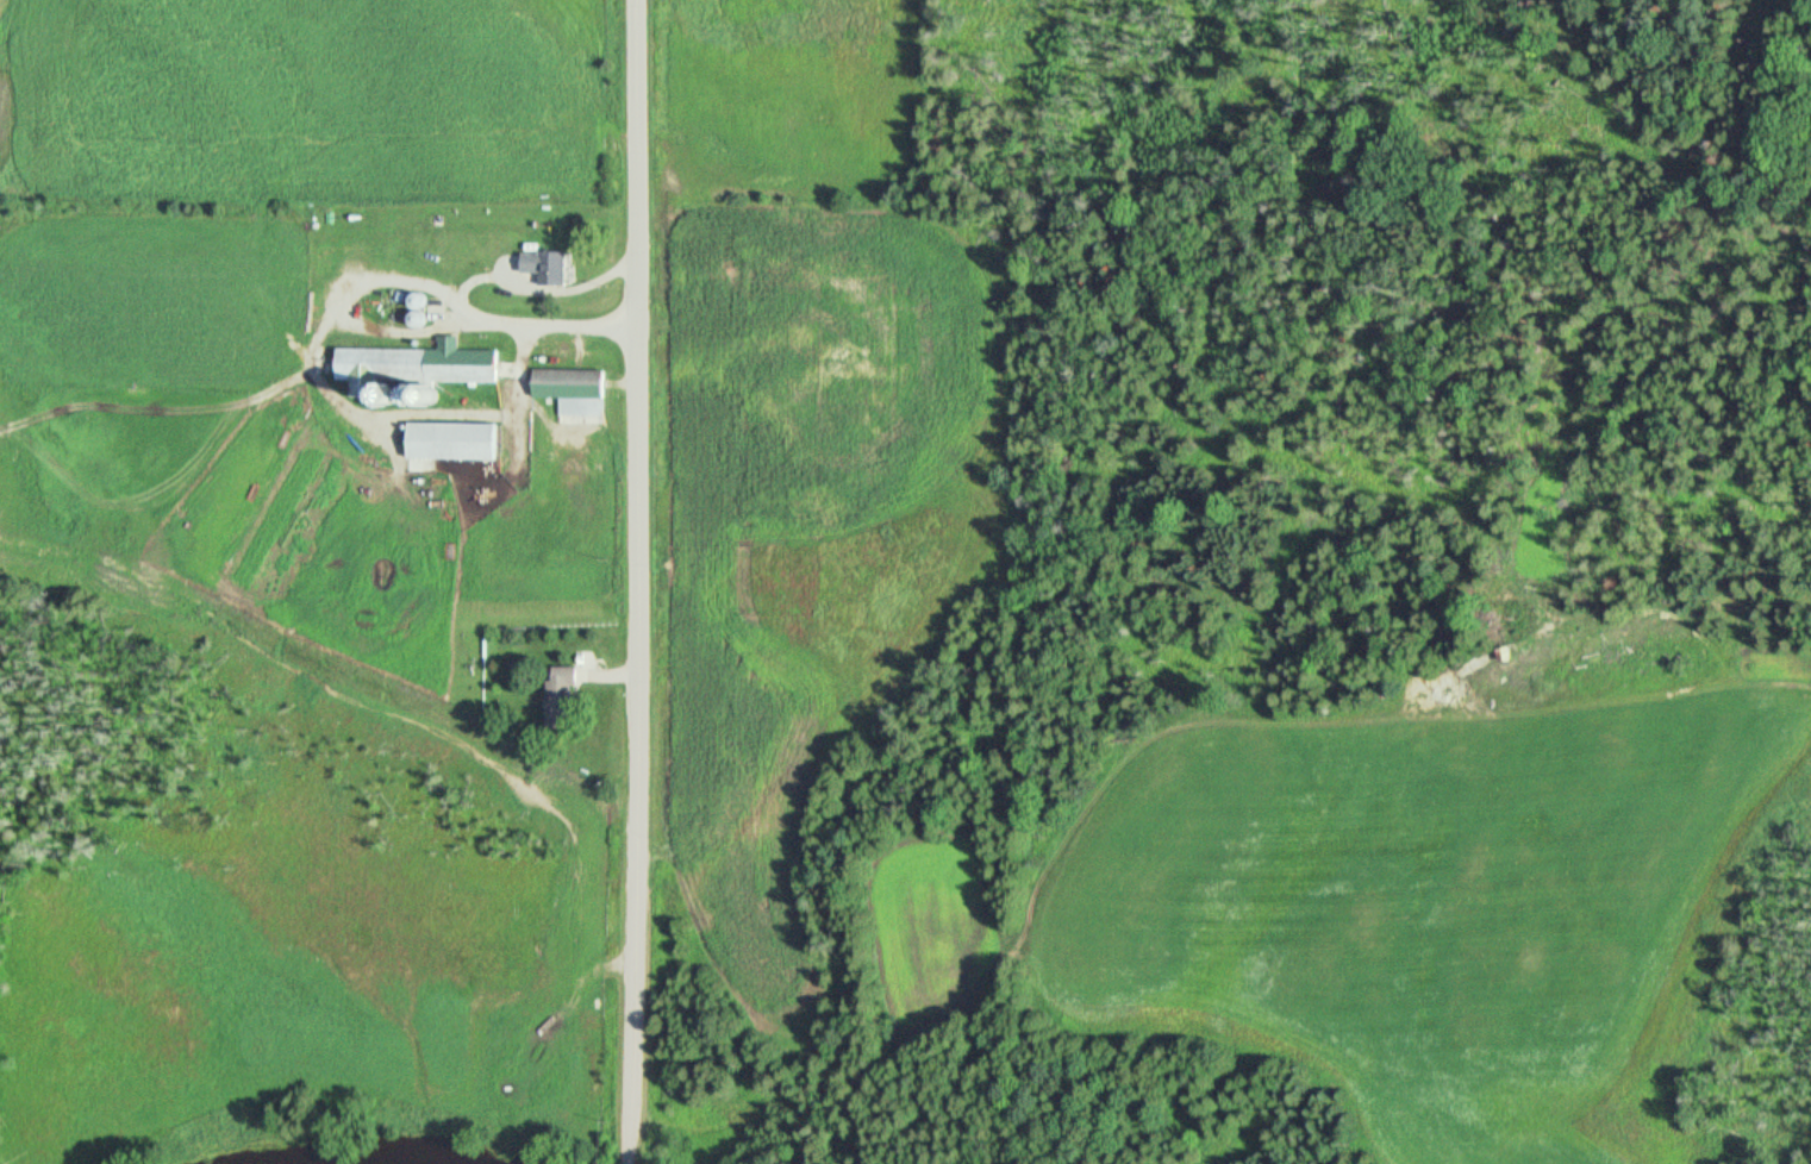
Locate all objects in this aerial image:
building: (545, 268)
building: (413, 374)
building: (569, 390)
building: (452, 444)
road: (637, 582)
building: (562, 697)
road: (1391, 718)

